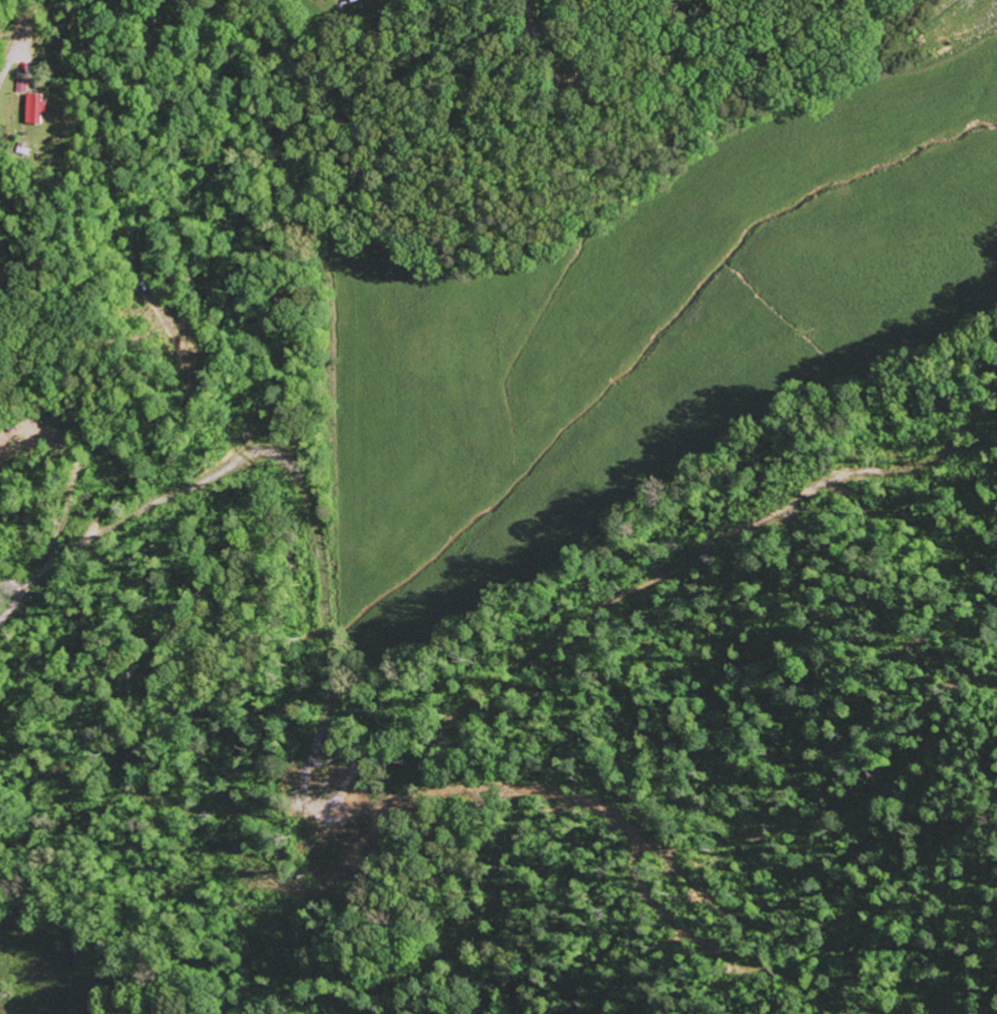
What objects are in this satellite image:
building: (337, 0)
building: (354, 0)
building: (21, 85)
building: (34, 108)
road: (12, 606)

